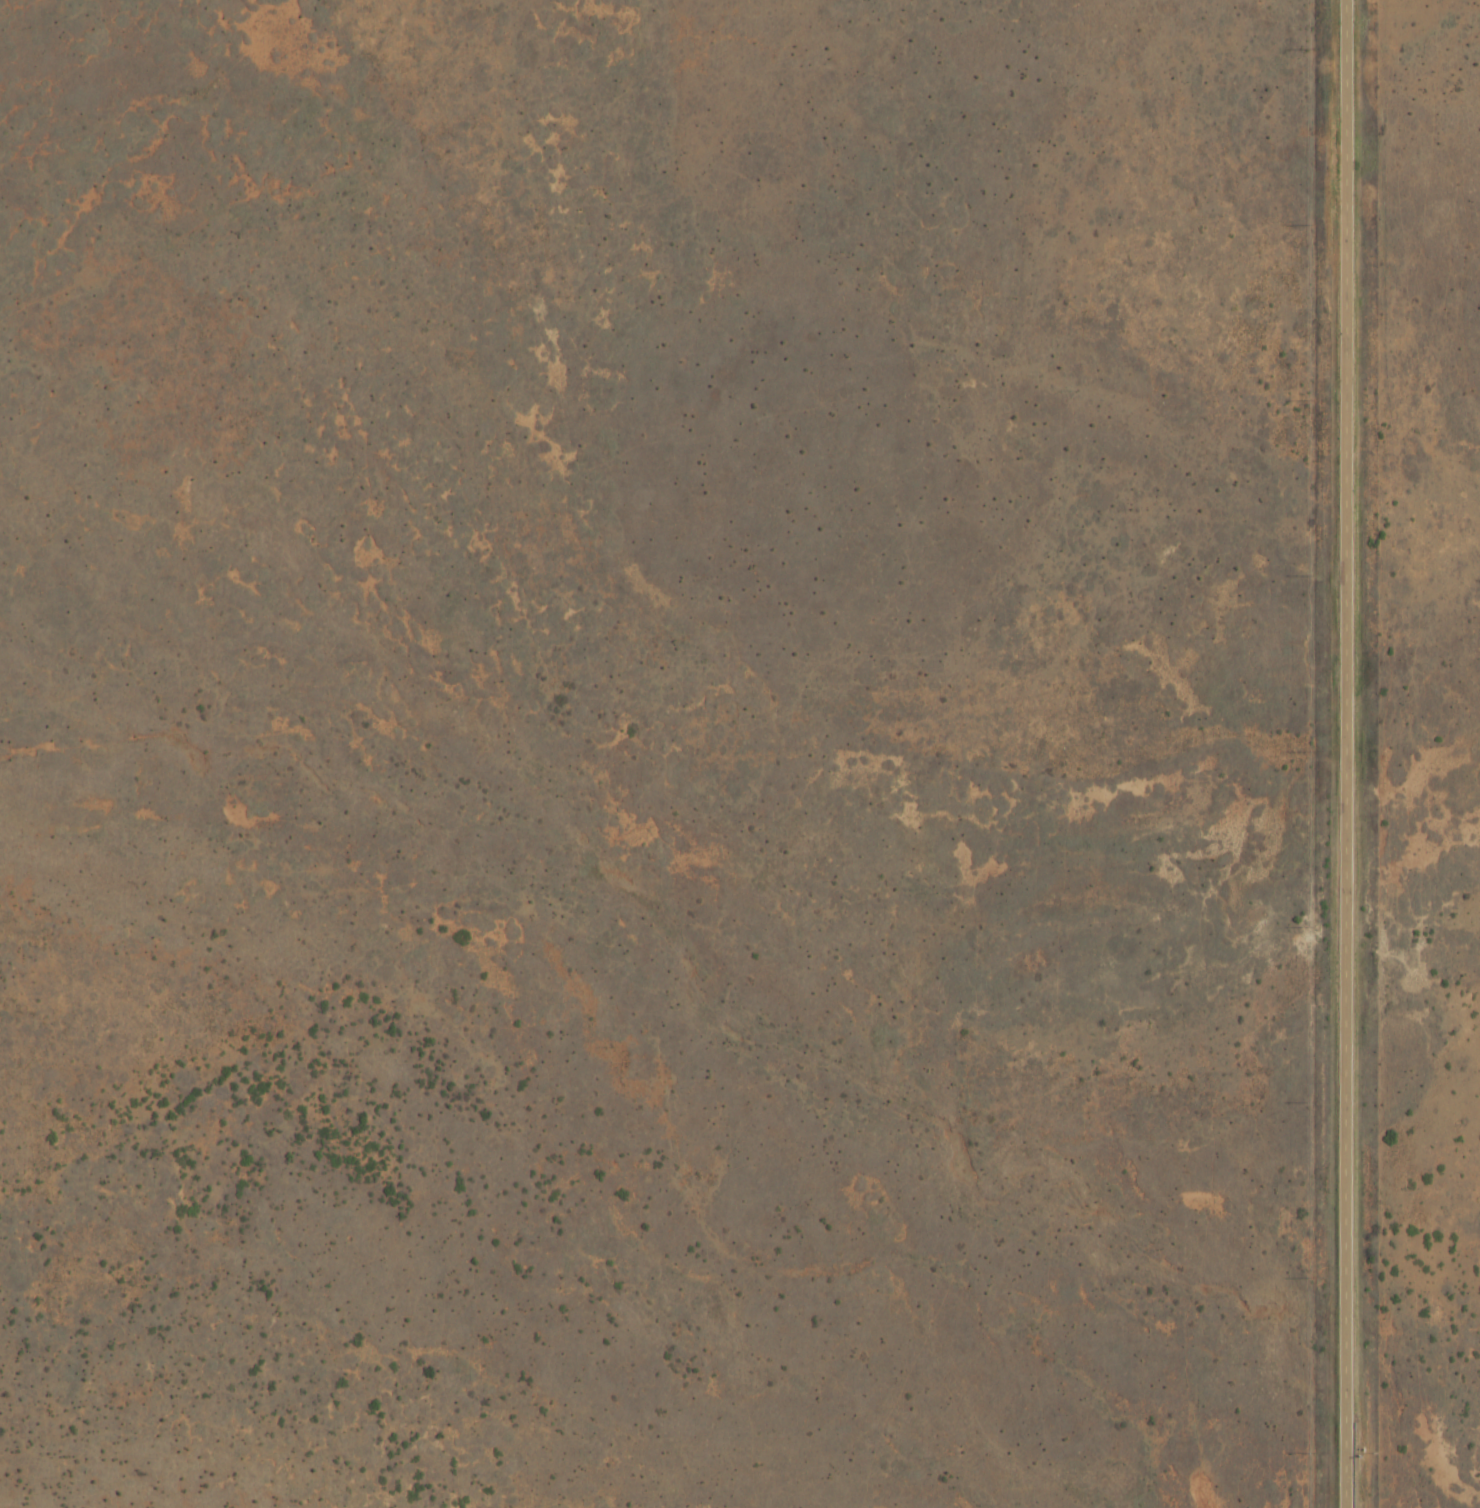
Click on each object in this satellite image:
road: (1371, 753)

